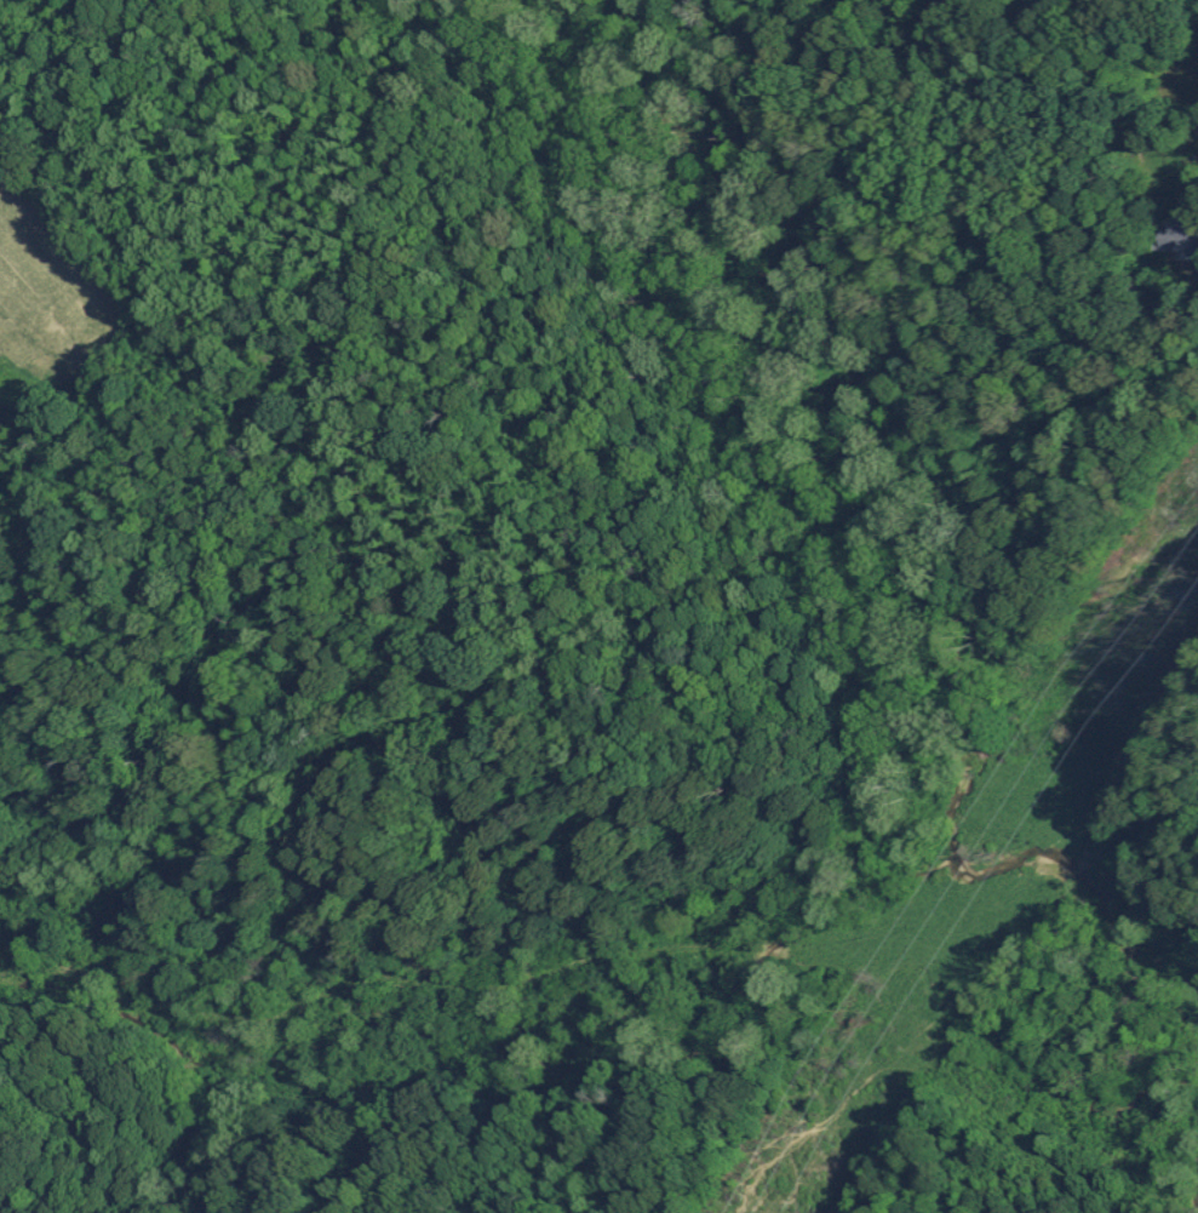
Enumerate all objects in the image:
building: (1179, 238)

